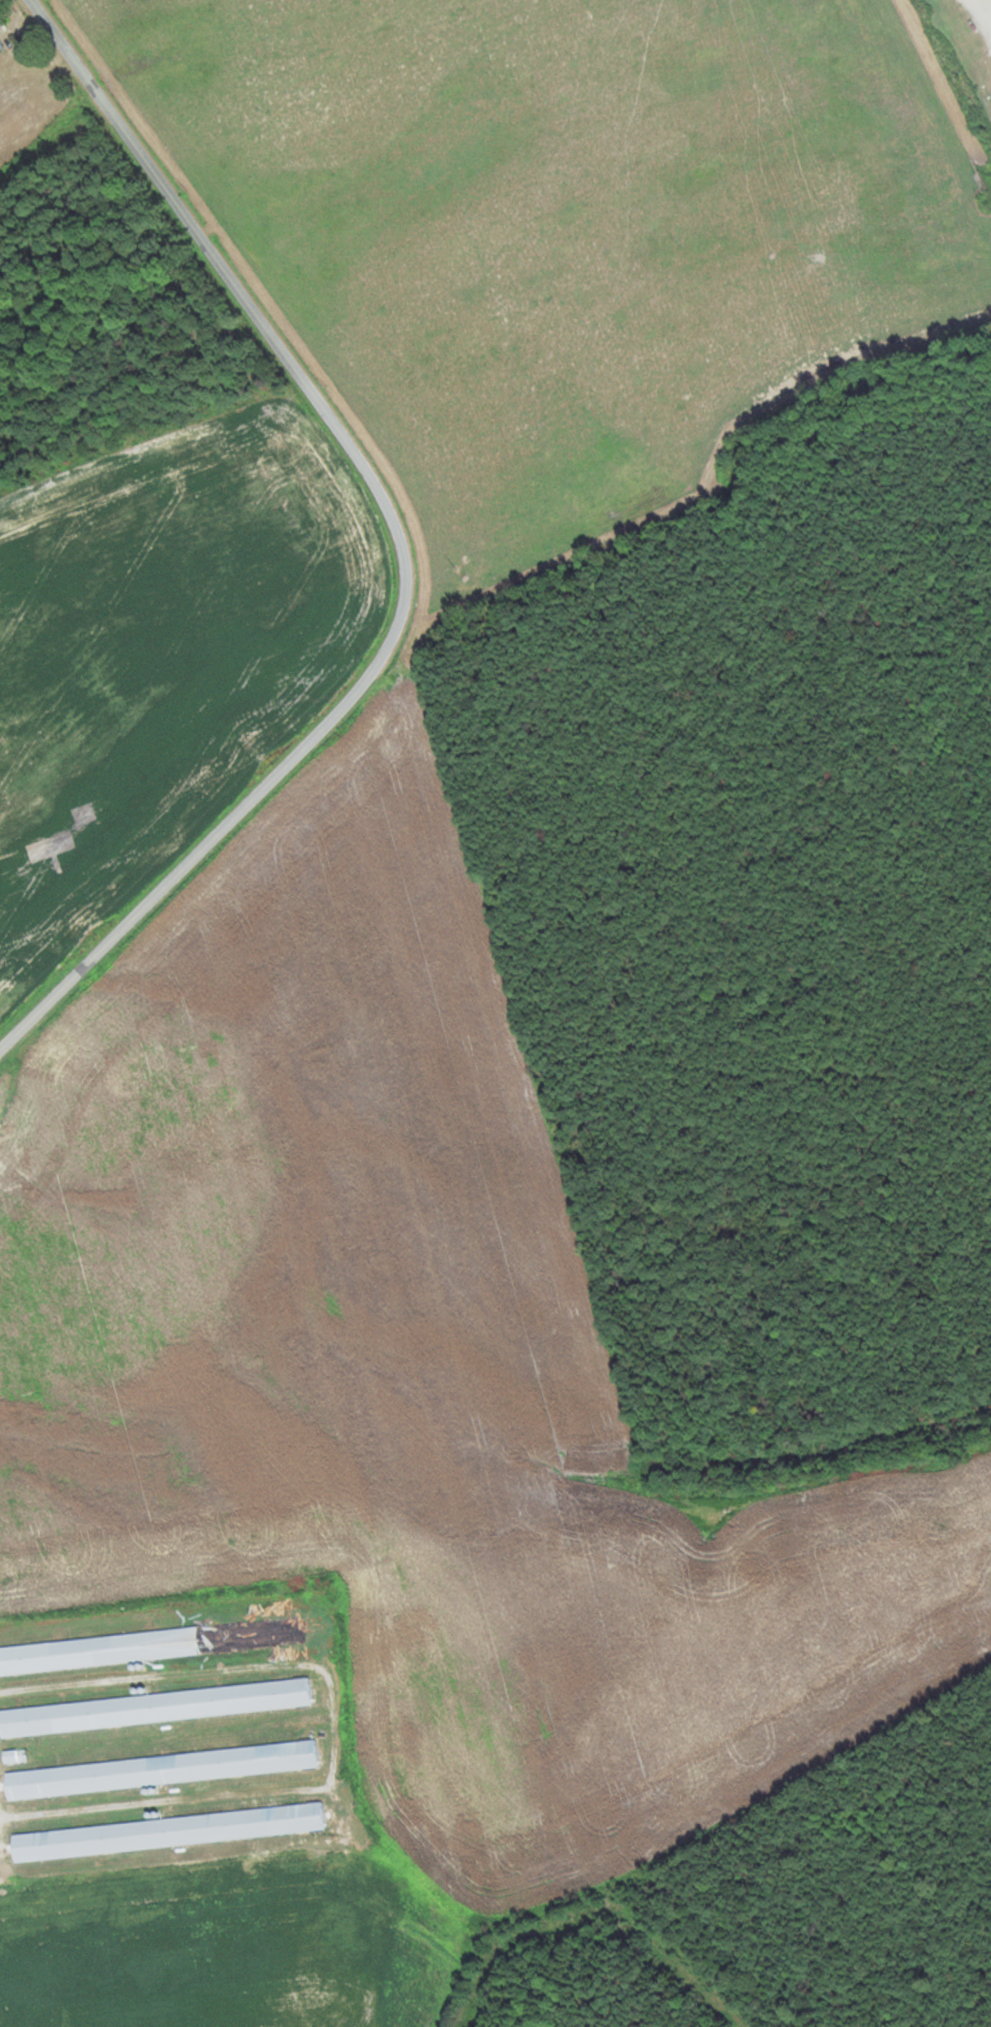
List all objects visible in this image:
building: (1, 46)
road: (404, 548)
road: (18, 1044)
building: (152, 1645)
building: (155, 1708)
building: (14, 1756)
building: (161, 1770)
building: (167, 1832)

